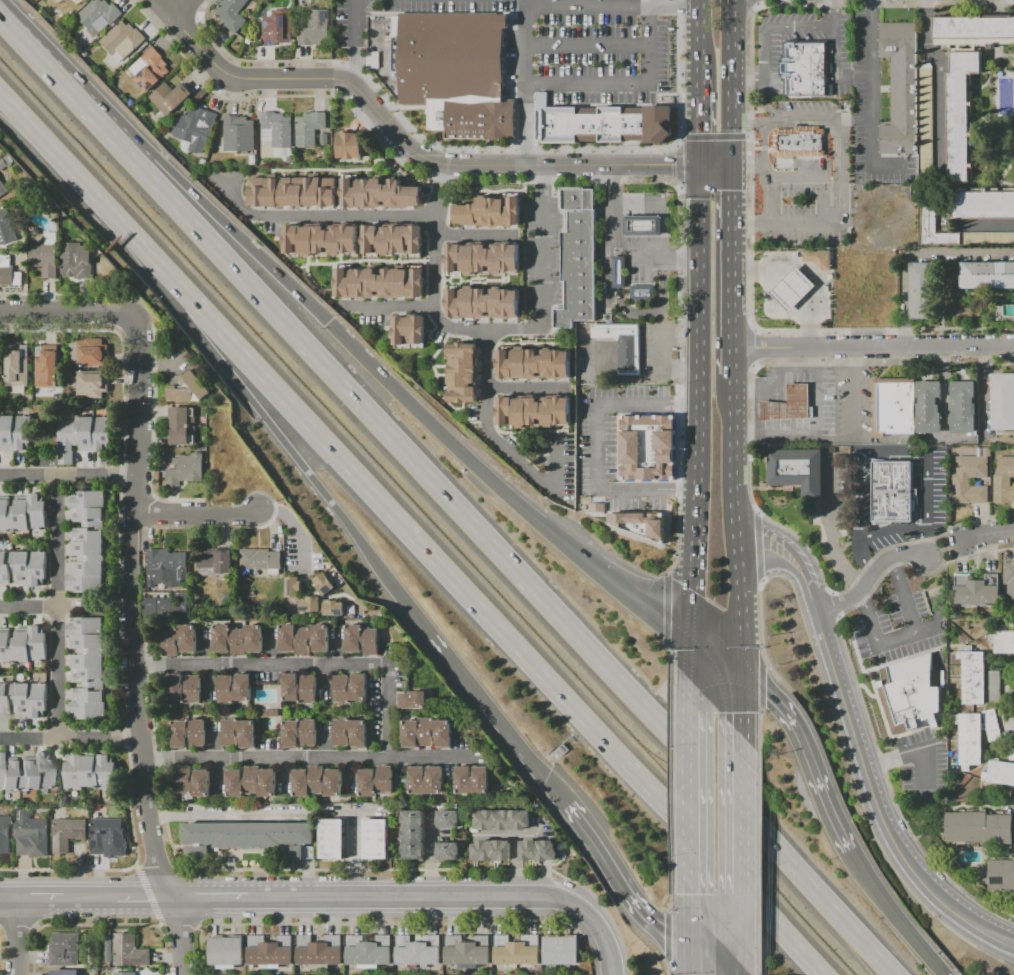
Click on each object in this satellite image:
road: (658, 3)
building: (76, 4)
road: (751, 4)
road: (606, 6)
road: (179, 10)
building: (234, 14)
building: (100, 17)
road: (7, 28)
building: (973, 28)
building: (280, 30)
building: (317, 30)
road: (764, 36)
road: (693, 41)
road: (835, 41)
building: (124, 42)
road: (354, 42)
building: (973, 43)
parking lot: (556, 44)
road: (587, 46)
parking lot: (769, 54)
building: (806, 70)
building: (151, 71)
building: (455, 73)
road: (680, 73)
road: (941, 80)
road: (731, 81)
road: (525, 84)
road: (624, 84)
building: (900, 87)
road: (70, 96)
building: (172, 99)
road: (869, 99)
parking lot: (797, 110)
parking lot: (871, 112)
building: (961, 114)
road: (809, 120)
road: (856, 120)
building: (926, 120)
road: (695, 123)
road: (753, 124)
building: (603, 125)
building: (197, 130)
building: (311, 130)
building: (279, 131)
traffic signals: (696, 133)
building: (241, 135)
road: (713, 137)
road: (763, 142)
building: (798, 142)
building: (351, 147)
road: (834, 148)
road: (411, 151)
road: (747, 162)
road: (64, 163)
building: (7, 164)
road: (678, 165)
traffic signals: (672, 166)
road: (750, 168)
road: (844, 172)
road: (819, 179)
building: (3, 190)
traffic signals: (731, 190)
road: (769, 191)
building: (295, 194)
building: (381, 195)
building: (981, 204)
parking lot: (806, 209)
building: (488, 212)
road: (323, 216)
road: (787, 224)
road: (989, 225)
building: (5, 226)
building: (643, 226)
building: (934, 227)
road: (230, 229)
road: (472, 236)
building: (988, 239)
building: (323, 241)
building: (395, 241)
road: (617, 243)
road: (619, 250)
road: (913, 252)
gas station: (635, 253)
road: (149, 256)
building: (47, 257)
building: (576, 257)
building: (482, 258)
building: (818, 258)
building: (78, 262)
road: (731, 269)
building: (619, 272)
road: (749, 272)
road: (619, 273)
building: (9, 274)
building: (987, 275)
road: (606, 277)
road: (814, 277)
building: (382, 285)
gas station: (794, 288)
building: (793, 289)
building: (923, 291)
building: (643, 293)
building: (481, 304)
road: (389, 307)
road: (659, 311)
road: (769, 313)
road: (67, 315)
traffic signals: (327, 322)
road: (490, 330)
building: (411, 331)
road: (806, 338)
building: (622, 344)
road: (872, 347)
road: (751, 348)
building: (94, 354)
road: (775, 360)
building: (536, 366)
building: (20, 369)
building: (49, 369)
building: (464, 374)
road: (773, 375)
building: (93, 385)
road: (681, 385)
road: (525, 388)
road: (745, 388)
building: (191, 391)
road: (698, 399)
road: (855, 400)
parking lot: (853, 401)
building: (1003, 402)
road: (733, 403)
road: (815, 404)
building: (789, 405)
building: (893, 407)
building: (928, 407)
building: (964, 408)
building: (535, 413)
building: (183, 427)
building: (16, 434)
road: (275, 435)
road: (794, 435)
building: (85, 438)
road: (497, 444)
road: (596, 445)
parking lot: (613, 445)
building: (647, 447)
road: (867, 452)
building: (188, 471)
road: (749, 471)
building: (797, 471)
road: (66, 477)
building: (1003, 481)
building: (961, 482)
road: (498, 488)
building: (892, 491)
building: (596, 507)
building: (24, 514)
road: (194, 514)
road: (757, 514)
building: (642, 523)
road: (294, 527)
road: (902, 529)
road: (829, 531)
road: (988, 534)
building: (89, 543)
road: (758, 547)
road: (945, 550)
road: (737, 554)
road: (789, 559)
building: (262, 560)
building: (216, 563)
building: (169, 565)
road: (509, 565)
building: (24, 569)
road: (869, 578)
building: (1009, 580)
road: (761, 581)
building: (324, 586)
building: (293, 590)
building: (976, 590)
building: (310, 606)
road: (834, 606)
road: (29, 608)
road: (58, 608)
building: (160, 609)
road: (664, 609)
building: (334, 610)
road: (130, 614)
road: (494, 626)
parking lot: (894, 628)
traffic signals: (688, 634)
road: (908, 635)
building: (181, 641)
building: (241, 641)
building: (306, 641)
building: (364, 641)
building: (1003, 642)
building: (24, 646)
road: (762, 651)
road: (715, 655)
road: (669, 661)
road: (686, 665)
building: (89, 669)
traffic signals: (743, 677)
building: (978, 678)
road: (761, 679)
building: (185, 690)
building: (237, 690)
building: (302, 690)
building: (352, 690)
road: (860, 693)
building: (911, 694)
road: (478, 697)
building: (24, 700)
building: (415, 701)
road: (384, 709)
road: (762, 710)
building: (271, 715)
road: (743, 717)
road: (577, 728)
building: (352, 734)
building: (430, 734)
building: (191, 735)
building: (241, 735)
building: (302, 735)
building: (975, 736)
road: (68, 738)
road: (841, 739)
road: (758, 742)
road: (558, 744)
building: (1011, 754)
road: (806, 755)
road: (907, 755)
road: (429, 757)
parking lot: (923, 765)
road: (551, 766)
building: (92, 773)
building: (999, 773)
building: (27, 775)
road: (669, 775)
building: (428, 782)
building: (474, 782)
building: (195, 783)
building: (378, 783)
building: (254, 784)
building: (320, 784)
road: (685, 792)
road: (875, 800)
building: (452, 821)
building: (505, 821)
building: (979, 828)
building: (35, 835)
building: (69, 835)
building: (106, 835)
building: (5, 836)
building: (415, 836)
building: (251, 840)
building: (334, 840)
building: (378, 841)
building: (493, 852)
building: (543, 852)
building: (450, 853)
road: (742, 853)
road: (174, 867)
road: (134, 868)
road: (154, 869)
road: (432, 869)
road: (758, 870)
building: (997, 876)
road: (619, 881)
road: (669, 892)
road: (148, 896)
road: (452, 898)
road: (213, 899)
road: (7, 900)
road: (37, 900)
road: (88, 900)
road: (147, 900)
road: (894, 914)
road: (685, 917)
road: (178, 923)
road: (413, 924)
road: (157, 925)
road: (197, 927)
road: (180, 936)
road: (13, 937)
road: (665, 939)
road: (1010, 942)
traffic signals: (684, 945)
building: (67, 951)
building: (106, 951)
building: (127, 951)
building: (321, 952)
building: (370, 952)
building: (420, 952)
building: (563, 952)
building: (228, 953)
building: (272, 953)
building: (470, 953)
building: (519, 953)
road: (684, 960)
road: (709, 960)
road: (741, 962)
road: (666, 970)
road: (758, 970)
building: (68, 973)
building: (127, 974)

